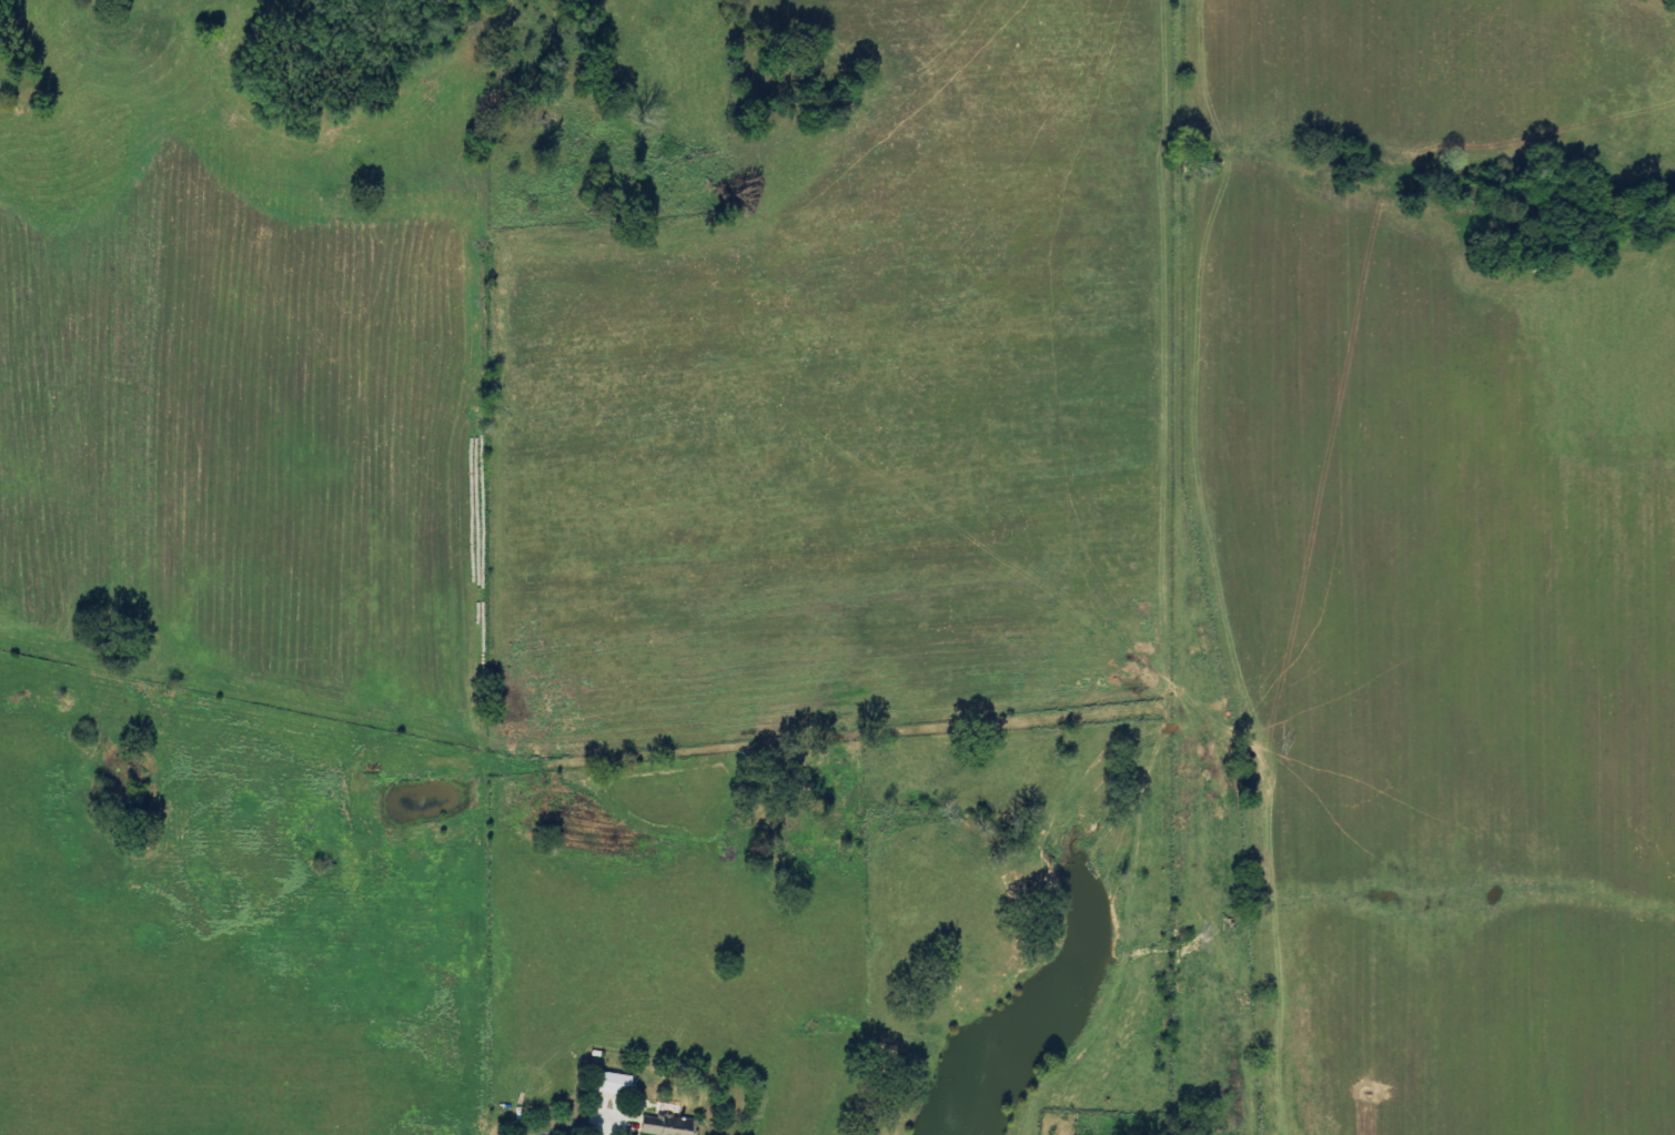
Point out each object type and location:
building: (613, 1084)
road: (585, 1123)
building: (665, 1132)

